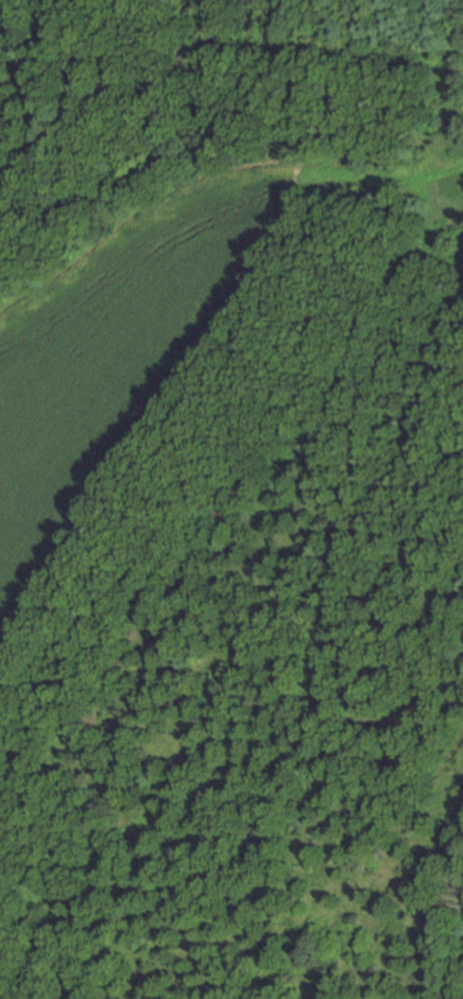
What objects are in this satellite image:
crop: (110, 350)

